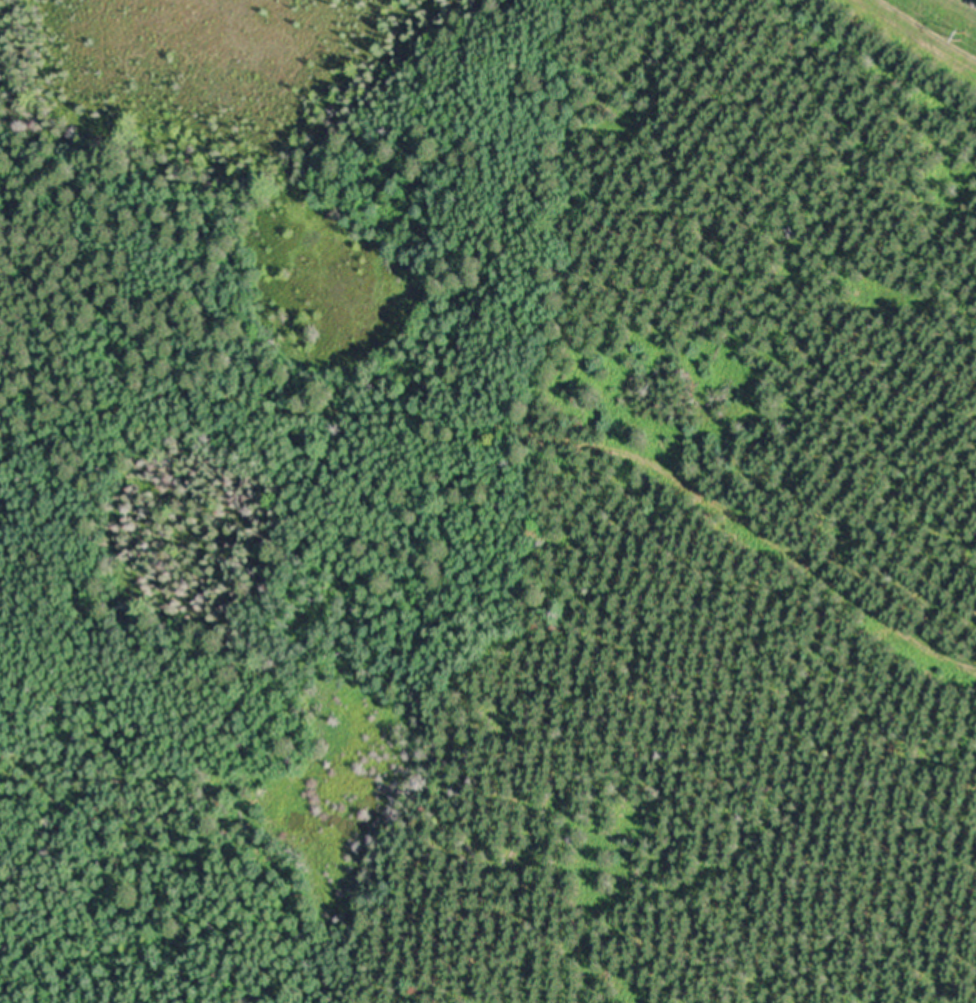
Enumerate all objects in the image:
road: (965, 4)
power tower: (963, 29)

